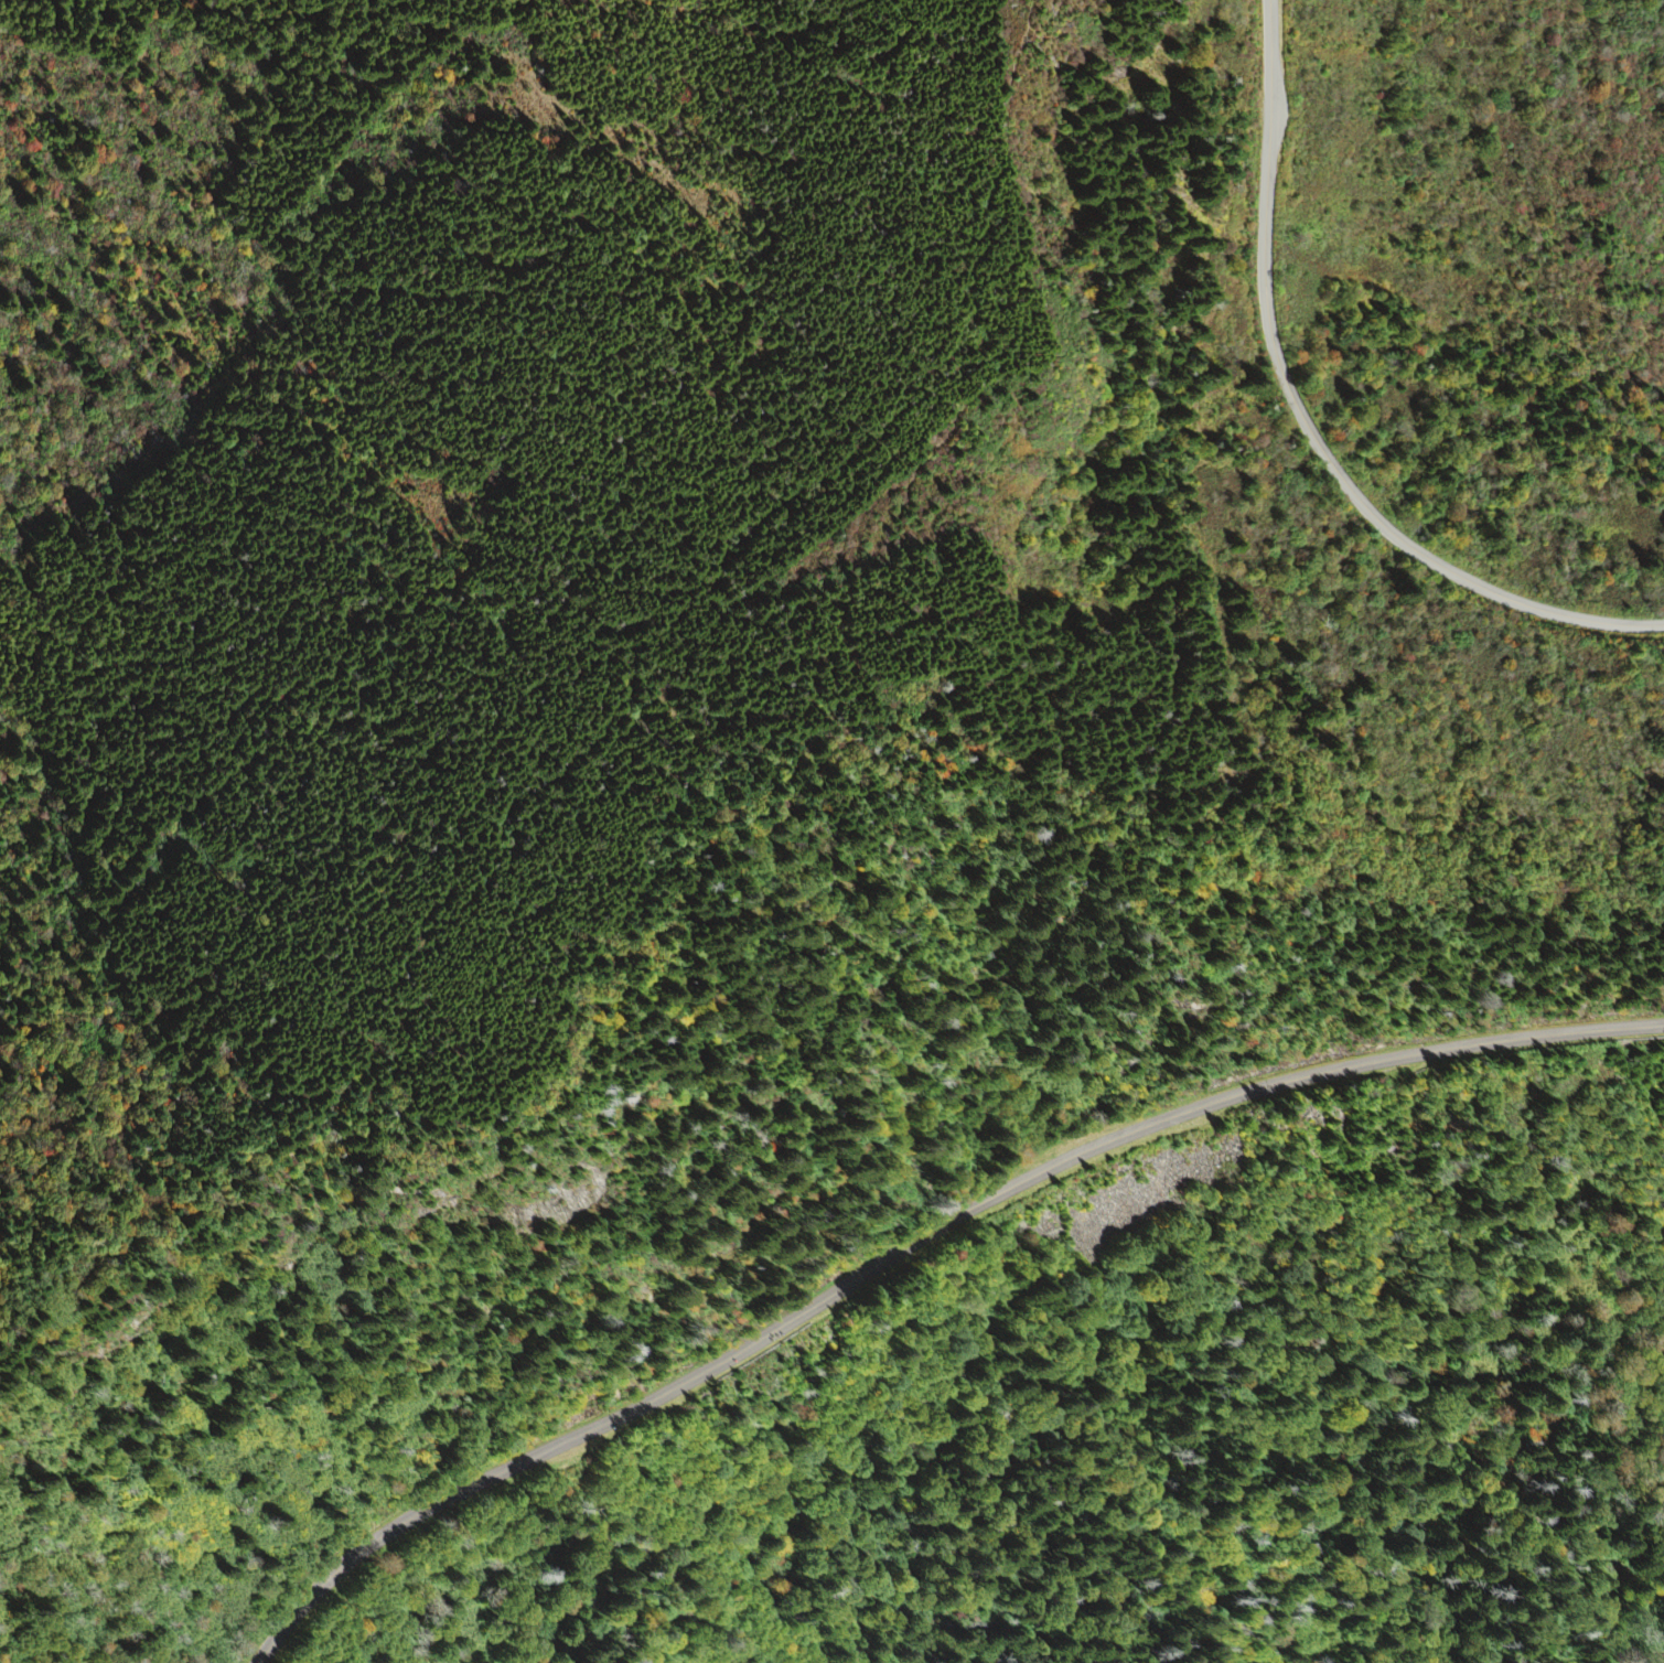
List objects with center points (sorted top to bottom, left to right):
road: (1307, 423)
road: (731, 807)
road: (914, 1242)

